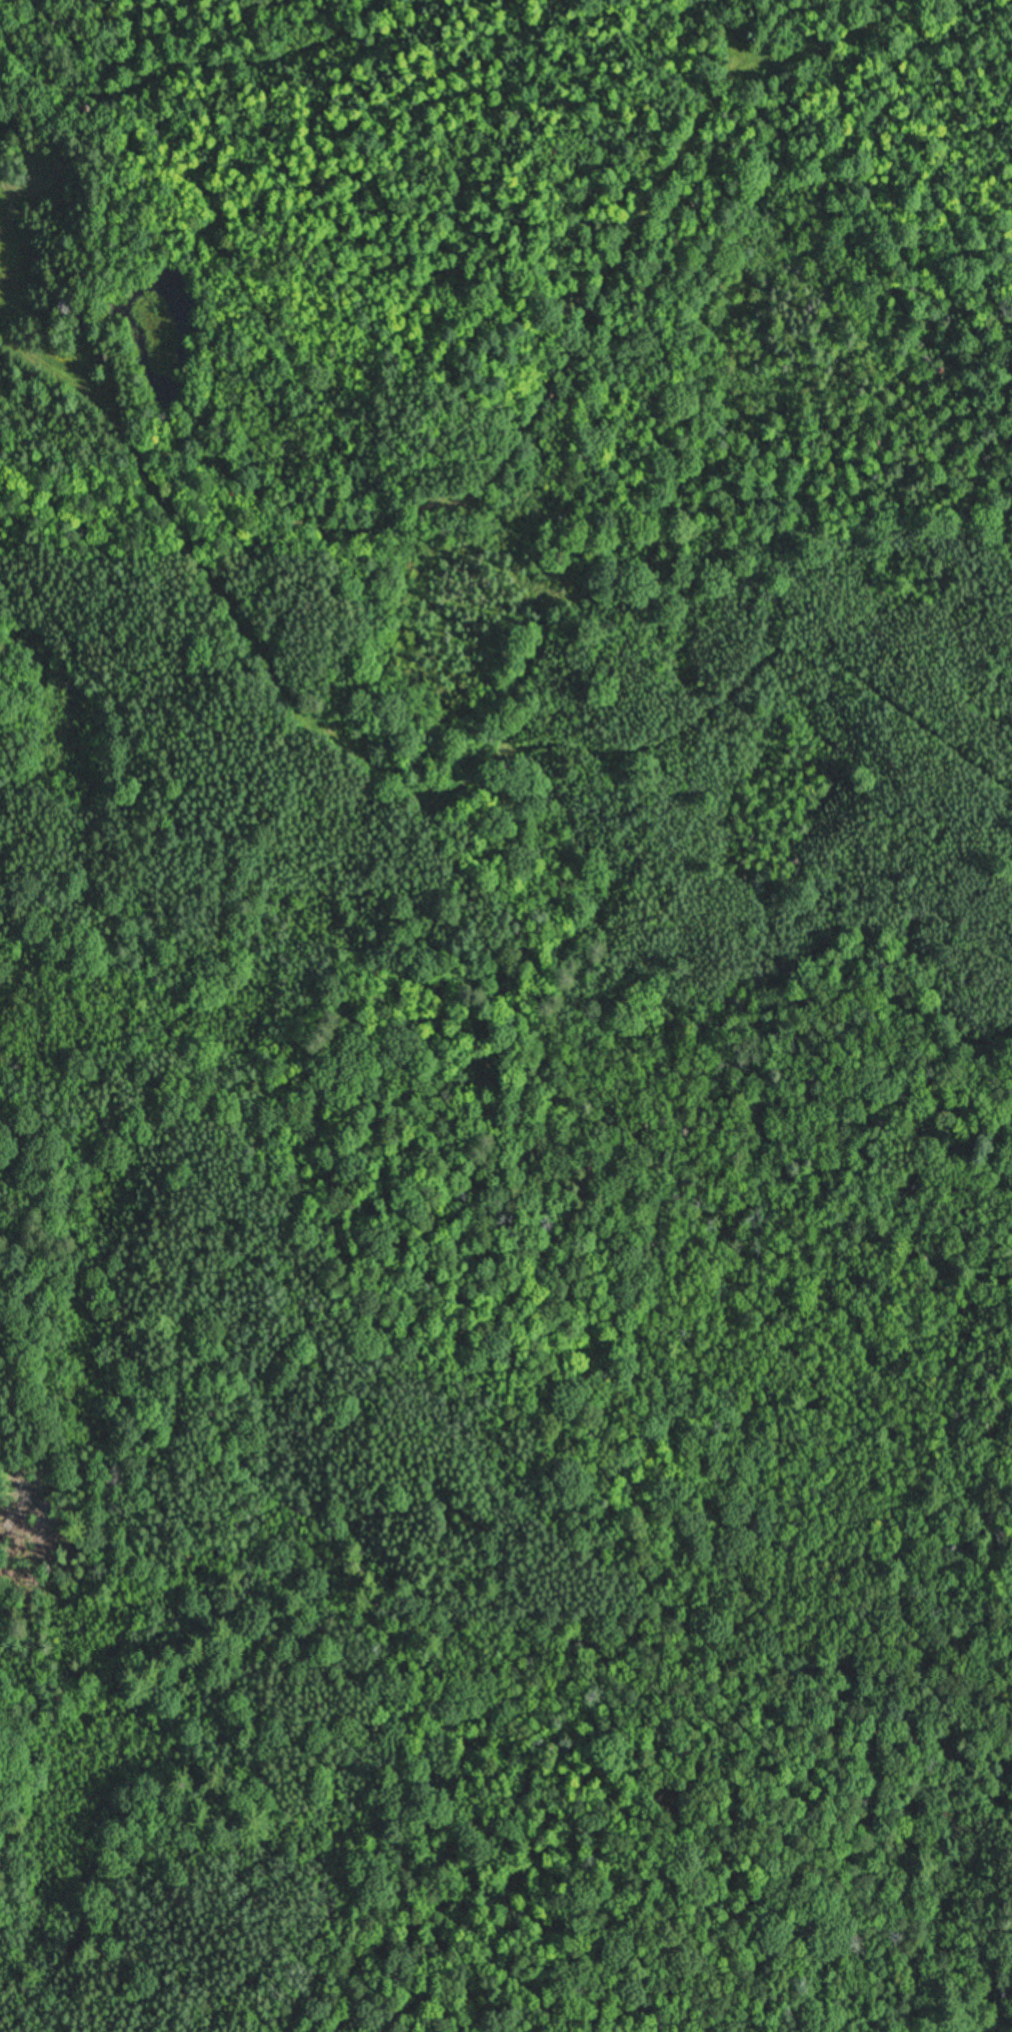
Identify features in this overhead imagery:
road: (977, 1187)
road: (988, 1445)
road: (873, 1889)
road: (20, 2012)

